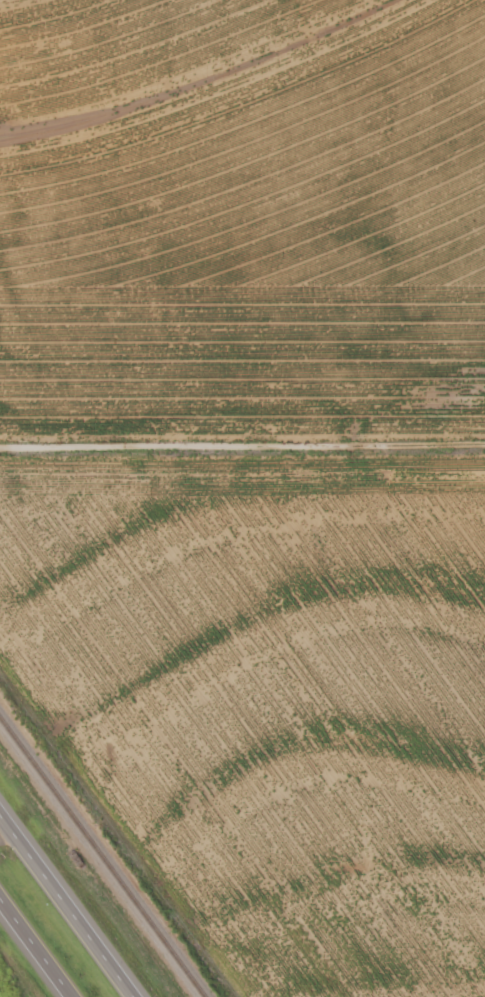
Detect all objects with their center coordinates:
road: (242, 441)
road: (6, 826)
railway: (106, 855)
road: (71, 900)
road: (36, 947)

